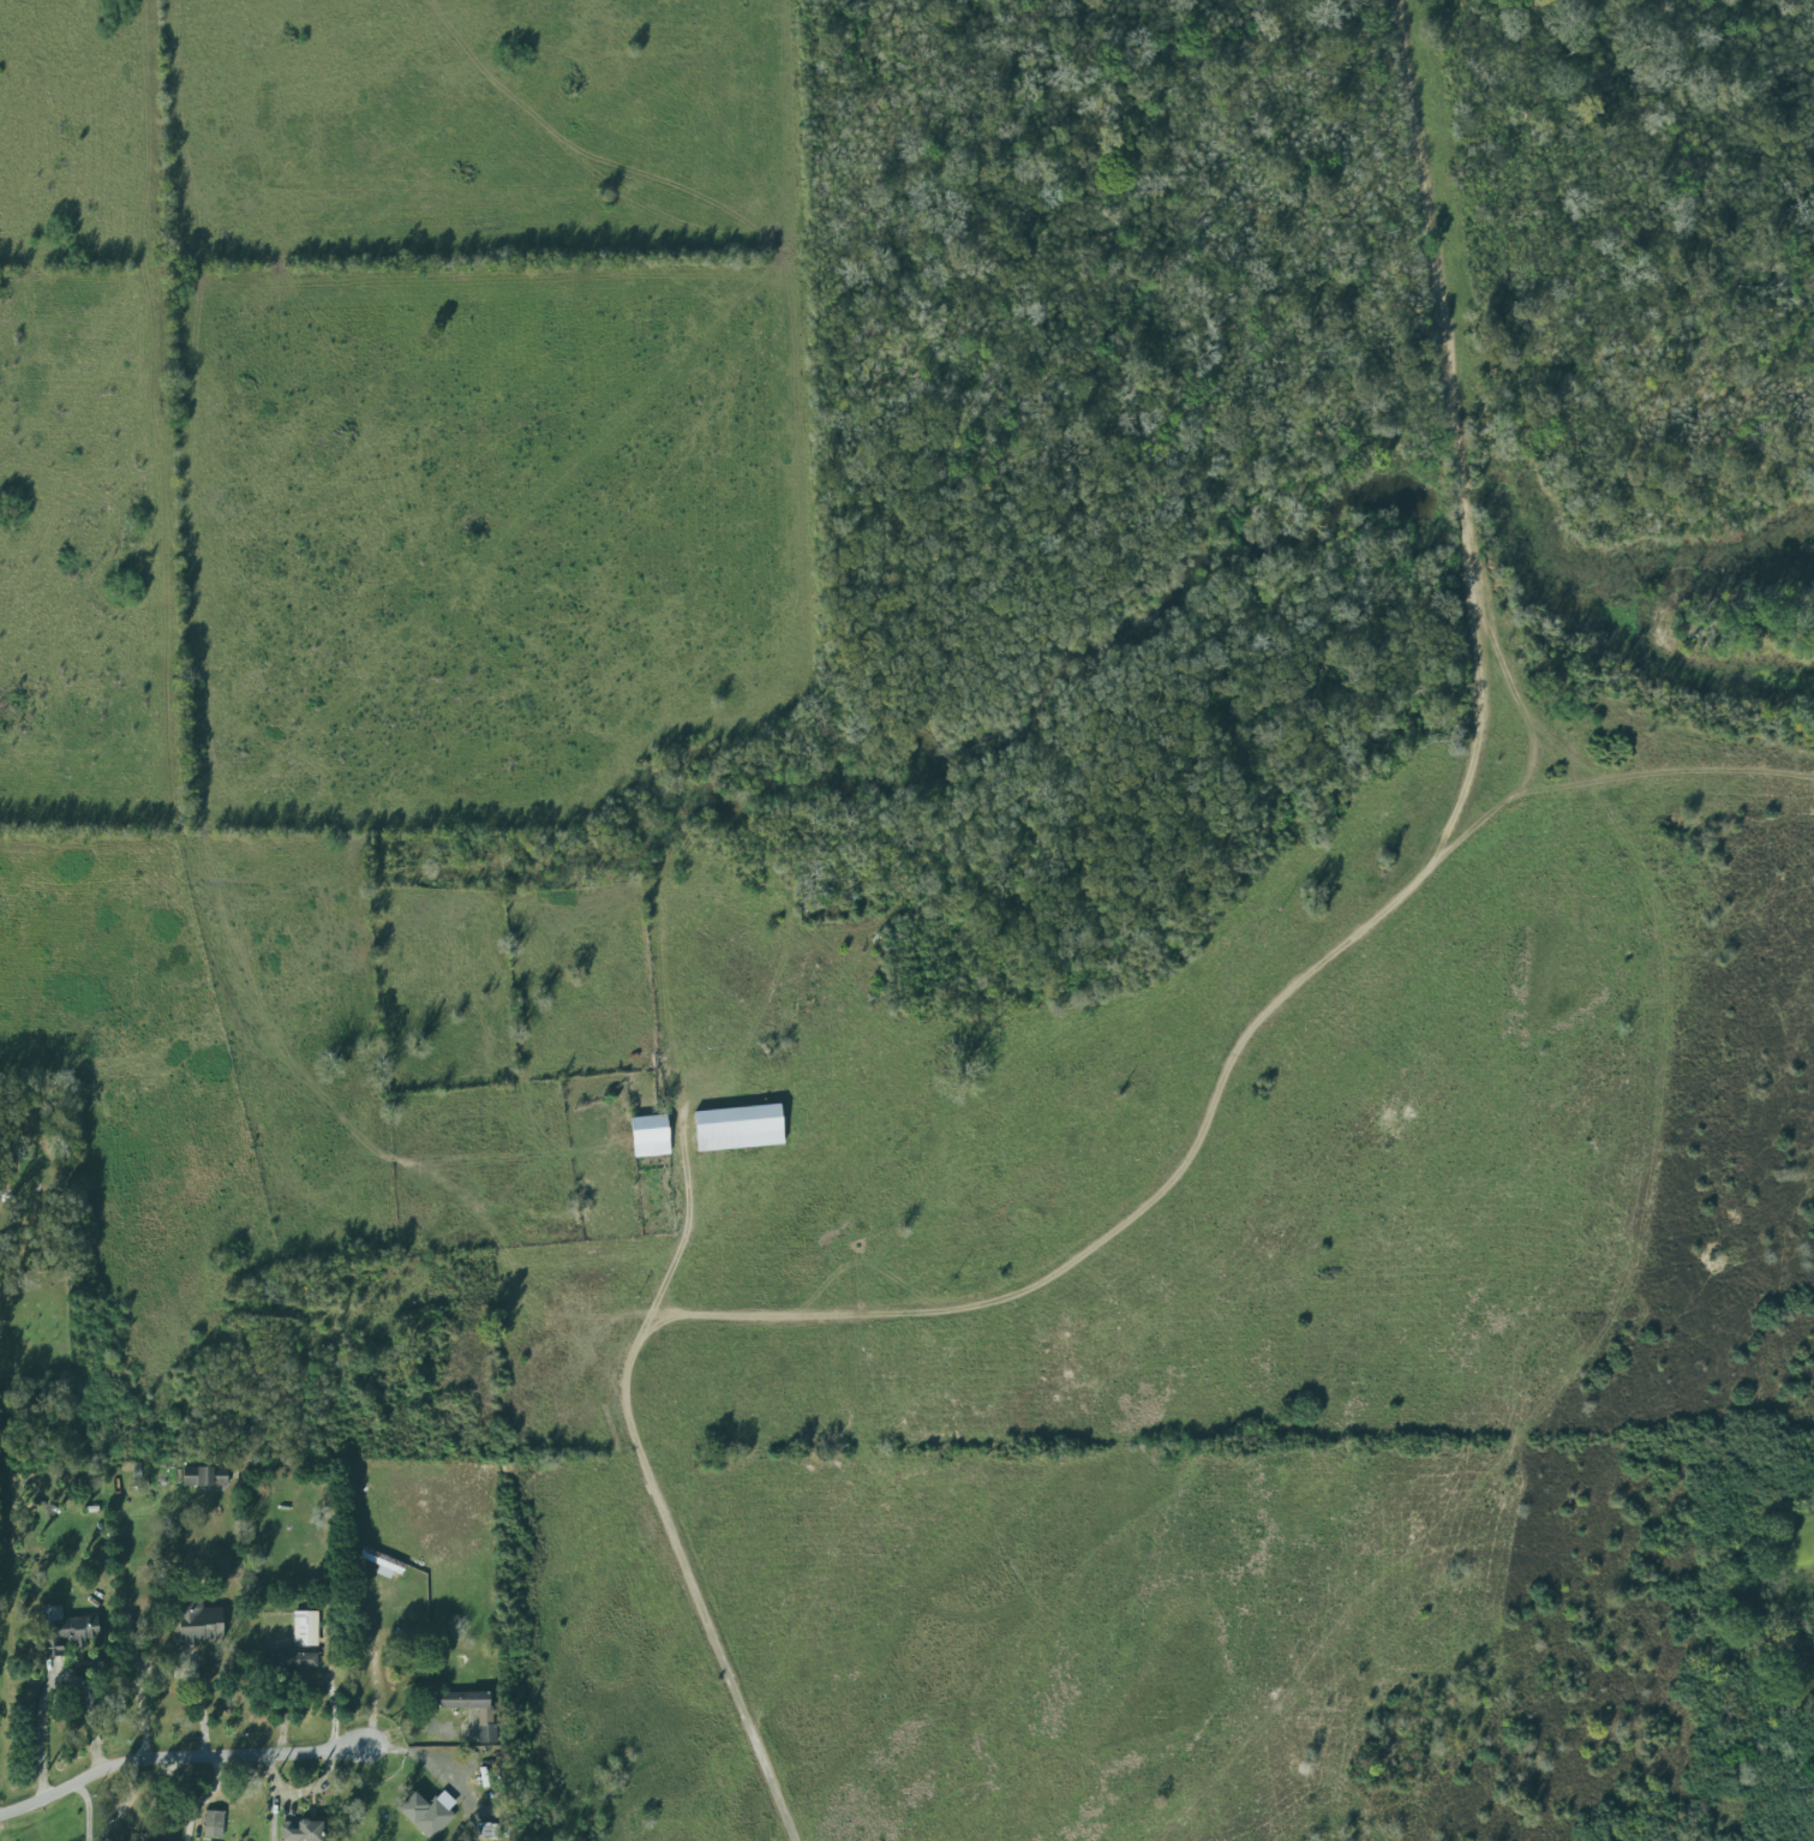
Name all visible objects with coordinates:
road: (1477, 512)
road: (1481, 733)
building: (737, 1128)
building: (649, 1136)
road: (686, 1235)
road: (960, 1309)
building: (204, 1476)
building: (383, 1564)
building: (197, 1624)
building: (305, 1628)
building: (65, 1631)
building: (293, 1662)
road: (371, 1668)
road: (54, 1682)
building: (485, 1726)
road: (188, 1756)
road: (300, 1792)
road: (86, 1810)
building: (429, 1812)
building: (212, 1824)
building: (301, 1830)
building: (489, 1831)
building: (157, 1837)

